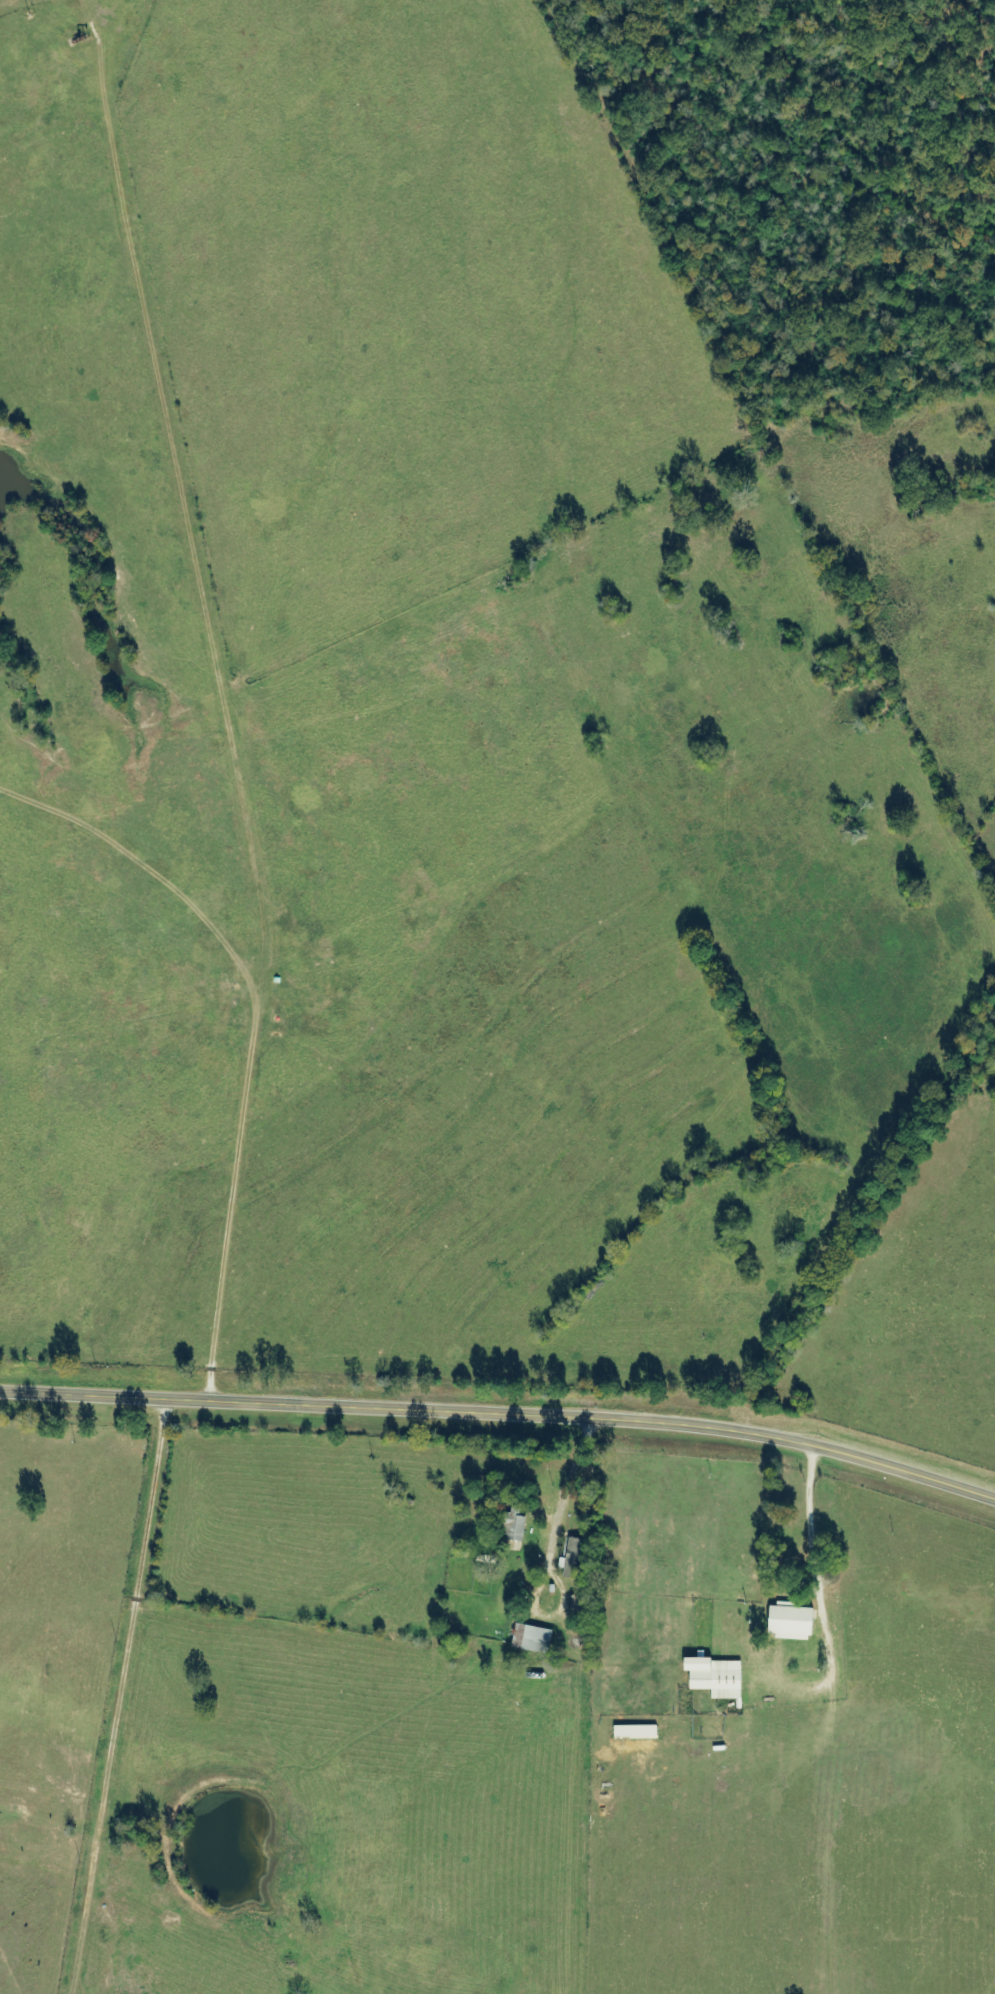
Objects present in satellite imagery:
road: (780, 432)
road: (879, 1240)
road: (502, 1405)
building: (519, 1521)
building: (577, 1557)
building: (794, 1619)
building: (535, 1638)
building: (720, 1676)
road: (116, 1688)

